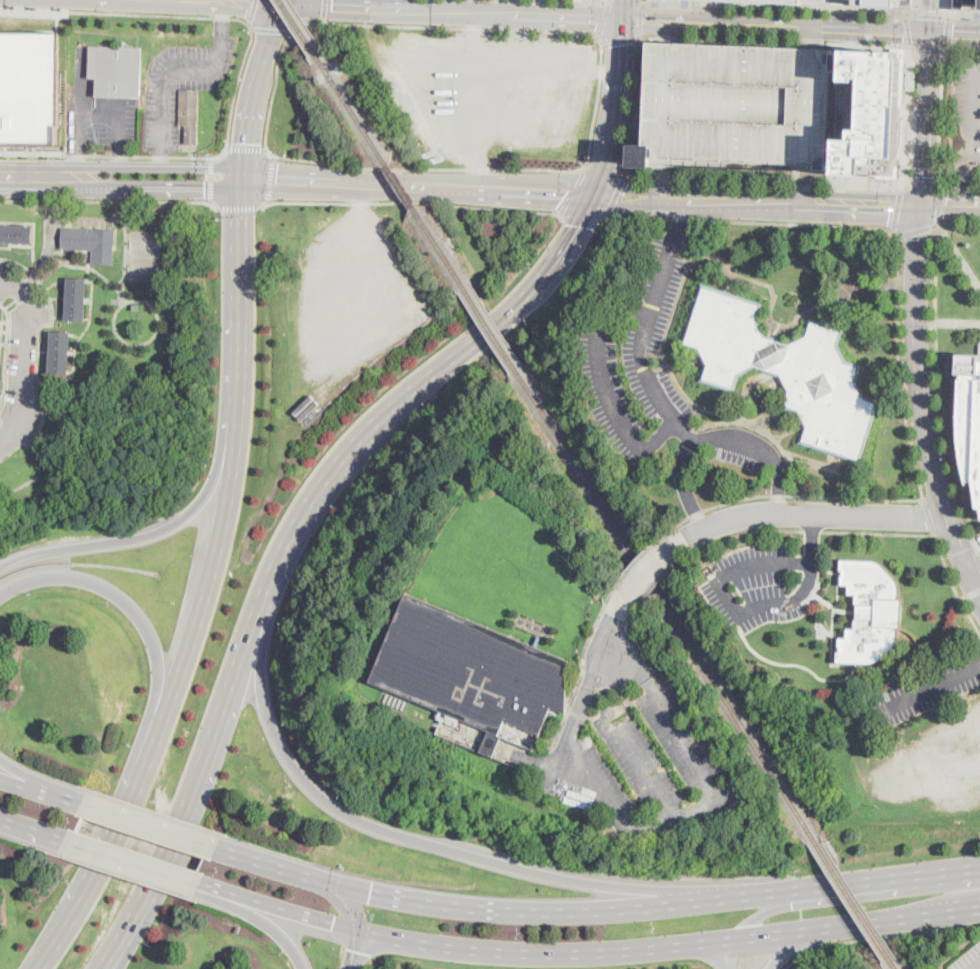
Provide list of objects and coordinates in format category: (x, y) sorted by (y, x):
building: (781, 0)
road: (609, 1)
building: (844, 1)
road: (642, 2)
road: (209, 3)
road: (282, 3)
parking lot: (966, 3)
building: (967, 3)
traffic signals: (248, 5)
road: (371, 5)
traffic signals: (331, 8)
road: (780, 8)
road: (910, 9)
traffic signals: (932, 9)
road: (624, 10)
road: (947, 10)
road: (324, 11)
road: (253, 12)
road: (452, 13)
road: (928, 14)
road: (959, 15)
road: (931, 16)
road: (199, 17)
traffic signals: (598, 19)
road: (604, 19)
road: (642, 19)
road: (222, 21)
traffic signals: (647, 21)
road: (441, 26)
road: (777, 26)
railway: (300, 27)
road: (474, 27)
road: (270, 28)
road: (908, 30)
road: (947, 31)
traffic signals: (903, 32)
road: (670, 33)
traffic signals: (953, 34)
road: (955, 34)
road: (621, 37)
road: (813, 39)
road: (779, 41)
traffic signals: (623, 42)
road: (931, 48)
road: (962, 48)
road: (976, 60)
road: (168, 67)
building: (116, 71)
road: (603, 71)
road: (81, 76)
parking lot: (181, 85)
building: (29, 88)
parking lot: (489, 90)
road: (272, 92)
road: (253, 93)
road: (596, 100)
road: (637, 101)
road: (97, 106)
road: (616, 107)
railway: (352, 108)
building: (737, 108)
parking lot: (737, 108)
road: (970, 109)
road: (942, 113)
building: (189, 114)
building: (873, 114)
road: (908, 116)
parking lot: (966, 117)
road: (927, 120)
parking lot: (104, 123)
building: (946, 132)
traffic signals: (246, 142)
road: (246, 148)
road: (106, 154)
road: (974, 159)
road: (76, 164)
road: (161, 164)
road: (118, 165)
road: (602, 166)
road: (428, 168)
road: (483, 170)
road: (952, 171)
traffic signals: (924, 176)
road: (762, 178)
road: (58, 179)
road: (139, 180)
road: (212, 180)
road: (268, 180)
road: (201, 181)
traffic signals: (205, 182)
road: (661, 182)
traffic signals: (276, 183)
road: (926, 183)
road: (331, 184)
road: (807, 184)
railway: (401, 186)
road: (959, 187)
road: (508, 188)
road: (842, 190)
road: (574, 191)
traffic signals: (567, 192)
road: (616, 196)
traffic signals: (622, 196)
road: (412, 201)
road: (112, 202)
road: (758, 202)
road: (940, 203)
traffic signals: (946, 206)
road: (950, 206)
road: (243, 209)
traffic signals: (891, 209)
road: (897, 210)
road: (583, 216)
road: (750, 220)
traffic signals: (580, 225)
road: (957, 227)
road: (918, 231)
building: (16, 234)
building: (91, 242)
park: (144, 243)
railway: (441, 247)
road: (958, 254)
park: (143, 268)
parking lot: (4, 281)
road: (242, 291)
parking lot: (353, 296)
building: (76, 299)
building: (136, 306)
parking lot: (652, 311)
road: (957, 324)
railway: (492, 328)
building: (59, 353)
road: (37, 355)
building: (136, 357)
road: (25, 359)
road: (899, 363)
parking lot: (22, 368)
building: (785, 369)
building: (171, 373)
road: (941, 388)
road: (416, 389)
road: (656, 392)
building: (66, 401)
parking lot: (618, 402)
building: (310, 403)
road: (923, 404)
road: (621, 414)
building: (969, 416)
road: (682, 485)
road: (797, 494)
road: (817, 515)
road: (928, 516)
road: (812, 529)
road: (158, 531)
road: (878, 532)
road: (743, 533)
road: (643, 551)
road: (651, 561)
road: (975, 569)
road: (655, 580)
road: (208, 584)
parking lot: (760, 584)
road: (954, 584)
road: (110, 590)
road: (970, 596)
railway: (668, 604)
road: (740, 611)
building: (871, 612)
road: (613, 625)
building: (537, 640)
road: (583, 666)
building: (470, 671)
road: (933, 685)
parking lot: (928, 688)
road: (153, 726)
building: (446, 731)
building: (460, 738)
parking lot: (949, 756)
parking lot: (639, 765)
road: (196, 778)
road: (41, 779)
road: (599, 783)
road: (40, 790)
road: (698, 807)
road: (148, 825)
road: (33, 828)
road: (118, 836)
road: (412, 837)
road: (132, 862)
road: (848, 884)
traffic signals: (371, 894)
road: (343, 899)
railway: (856, 900)
road: (461, 908)
road: (276, 909)
road: (762, 913)
road: (258, 917)
traffic signals: (333, 925)
road: (59, 937)
road: (880, 937)
road: (668, 947)
road: (793, 948)
traffic signals: (354, 949)
road: (353, 950)
road: (107, 956)
road: (116, 956)
parking lot: (968, 959)
railway: (897, 965)
road: (976, 966)

